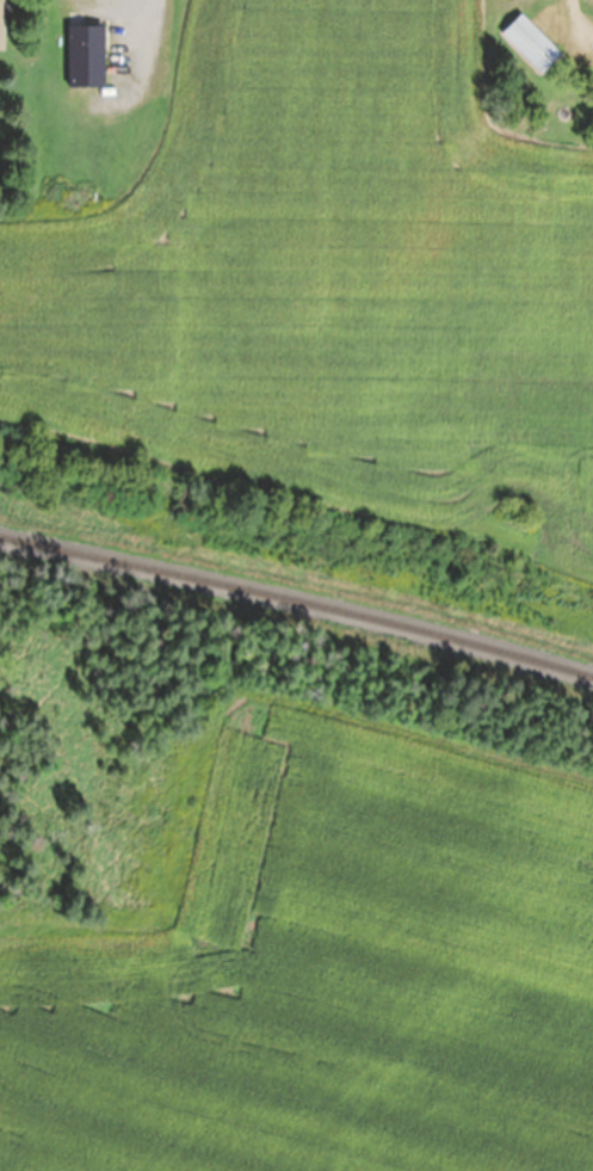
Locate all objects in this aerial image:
building: (2, 24)
building: (531, 44)
building: (86, 57)
railway: (297, 600)
road: (305, 979)

